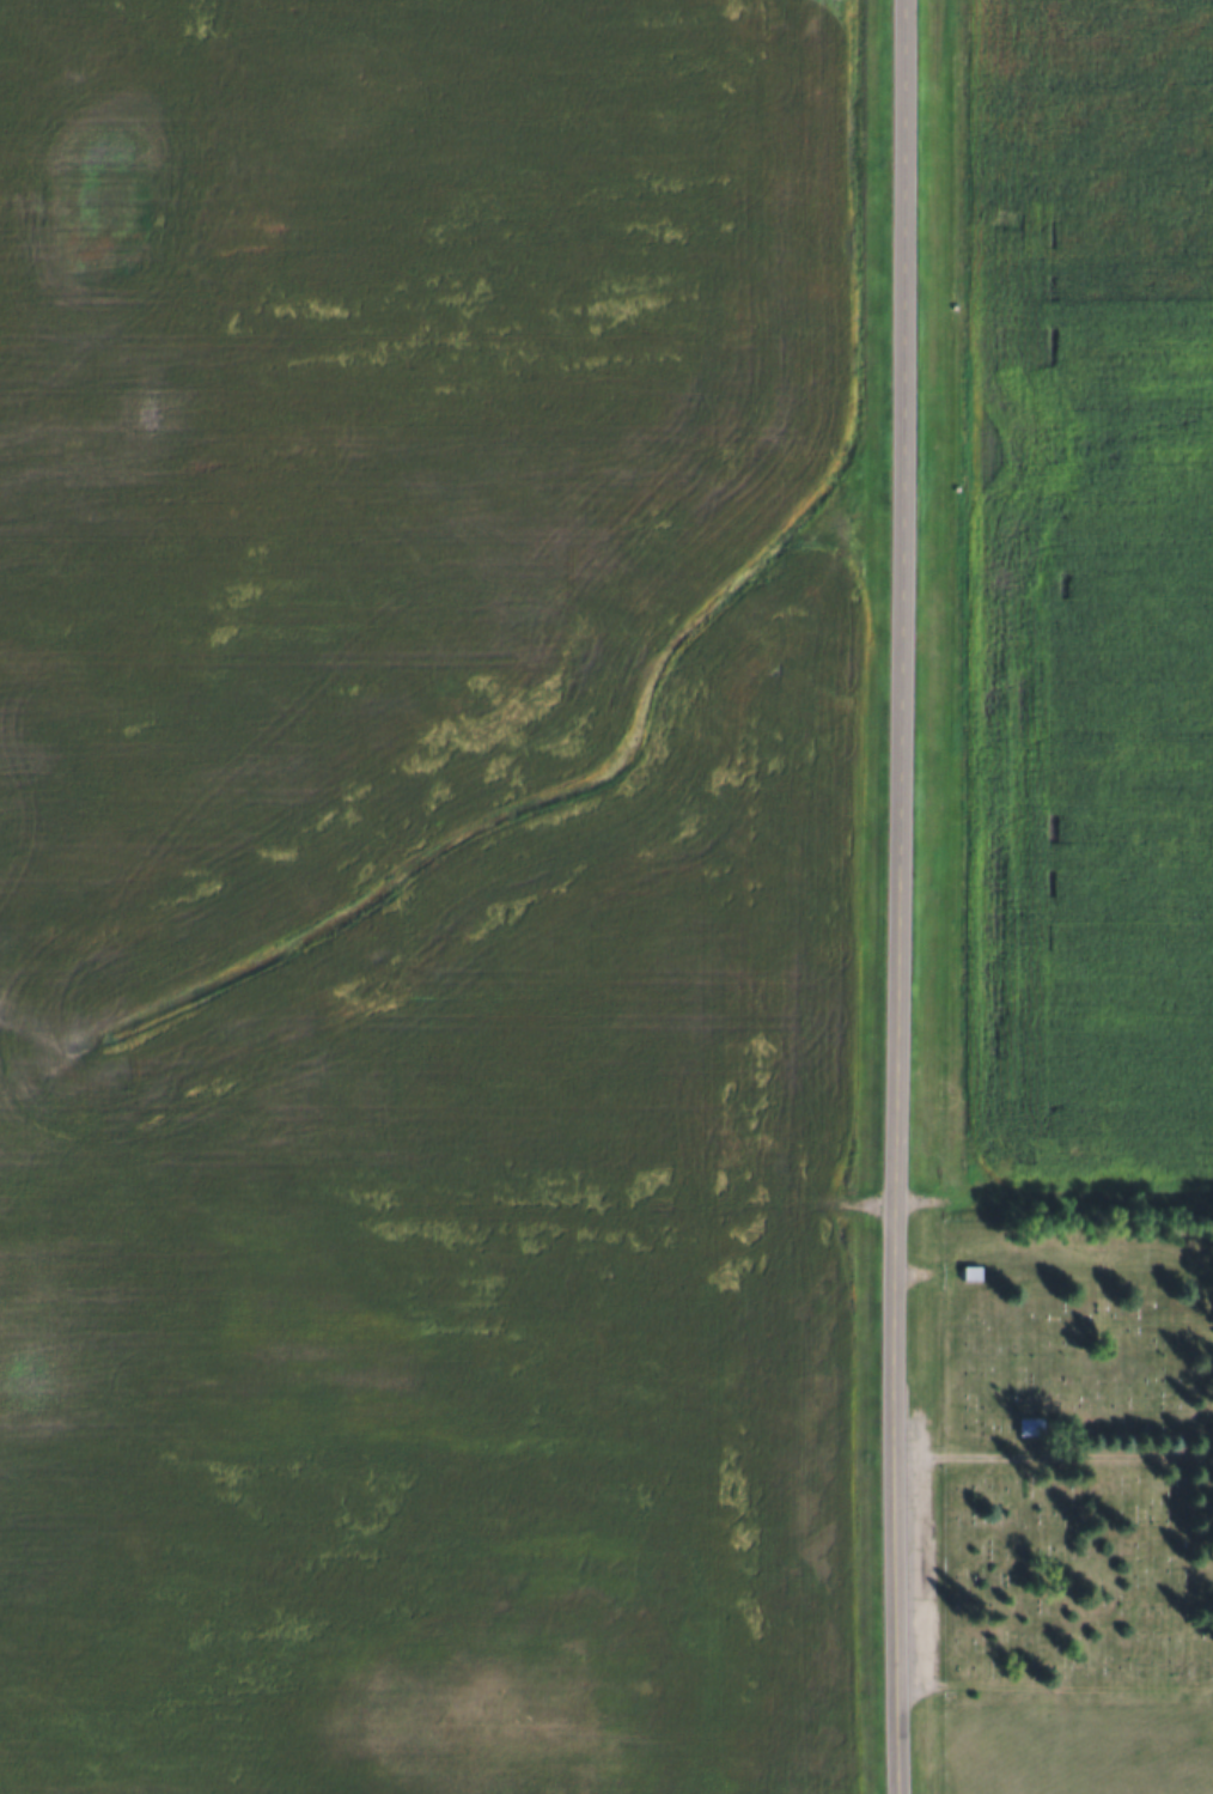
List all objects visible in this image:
road: (896, 896)
road: (1052, 1204)
building: (970, 1275)
building: (1030, 1427)
road: (1029, 1454)

